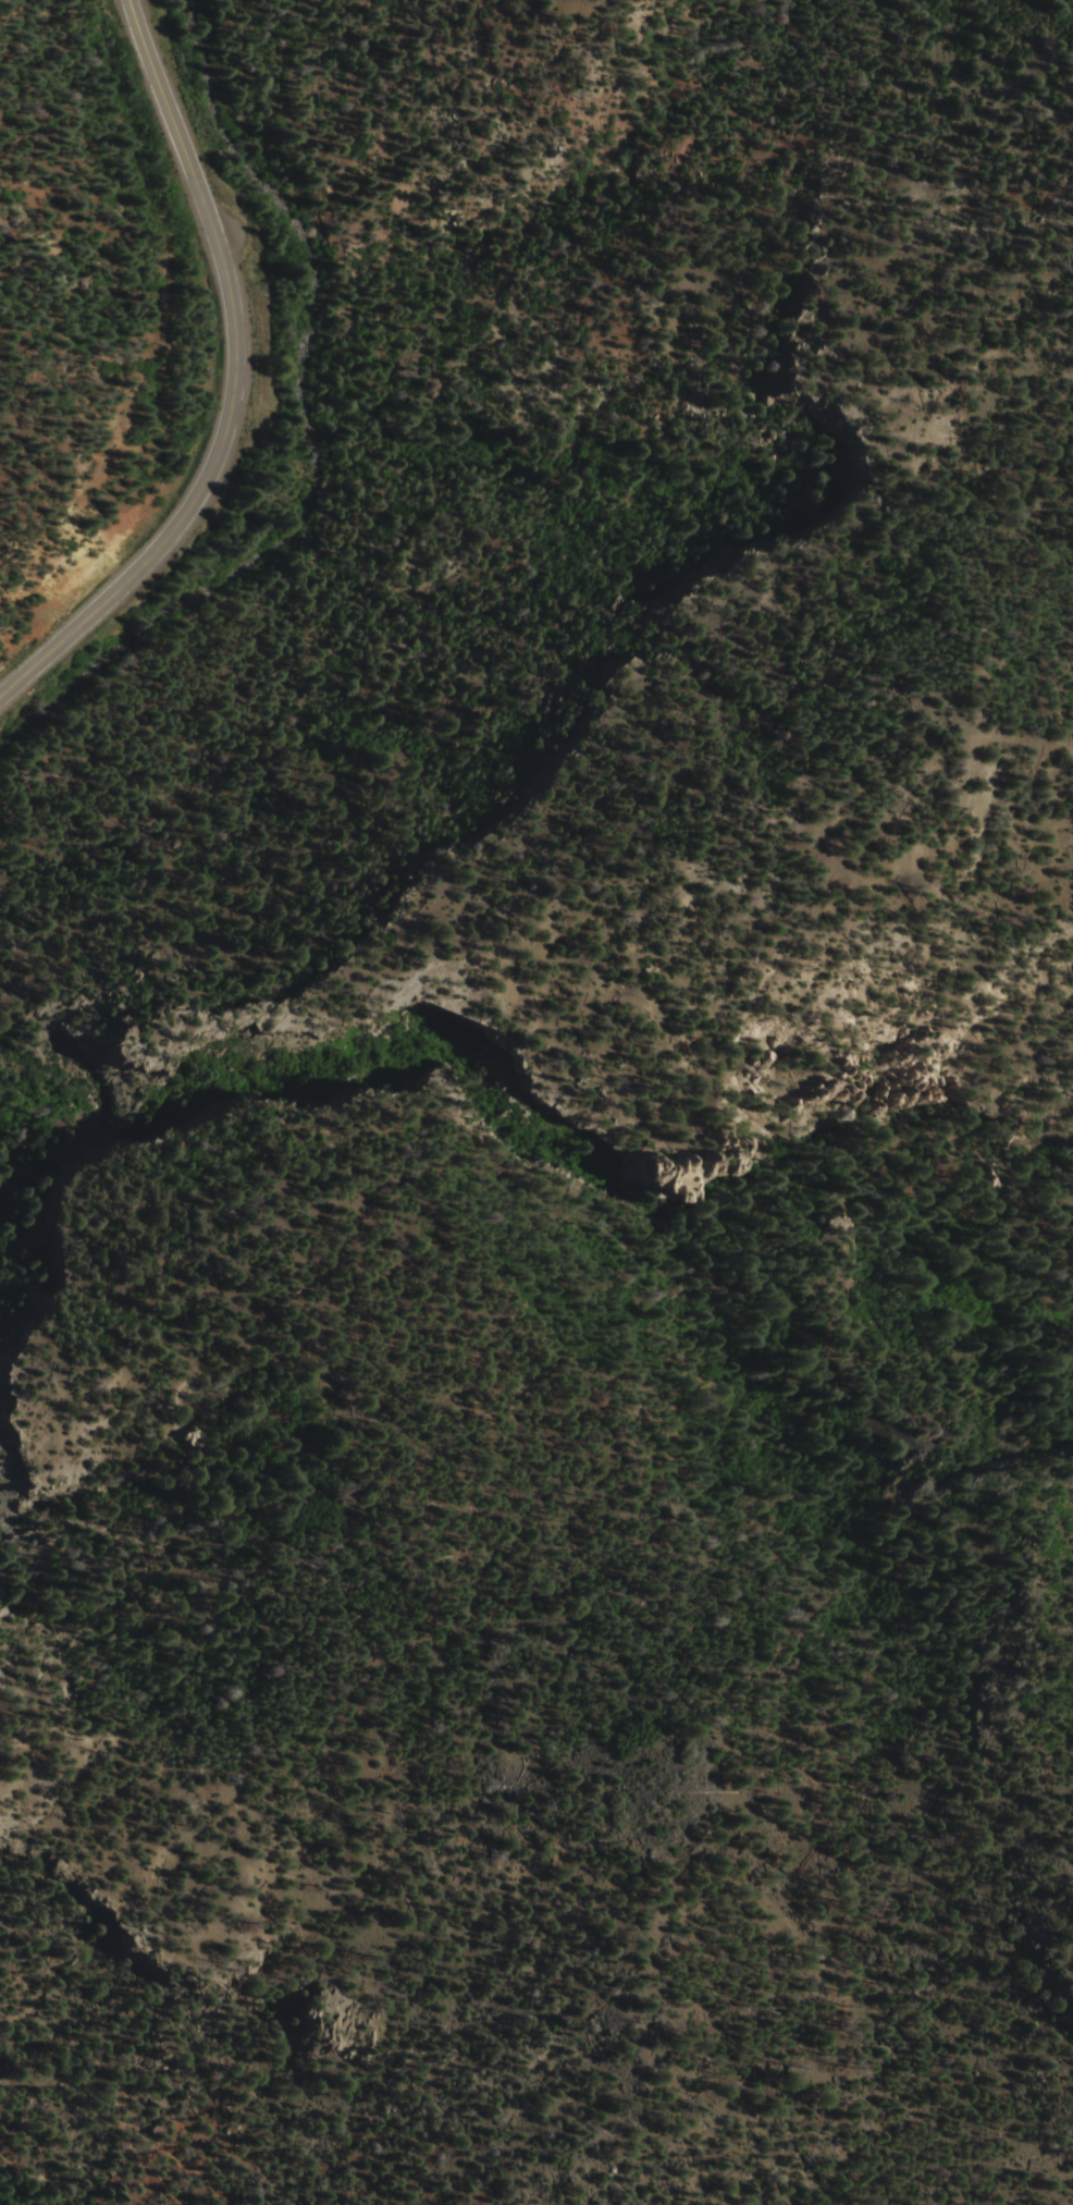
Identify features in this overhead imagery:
road: (231, 380)
road: (81, 2049)
road: (139, 2139)
road: (32, 2185)

